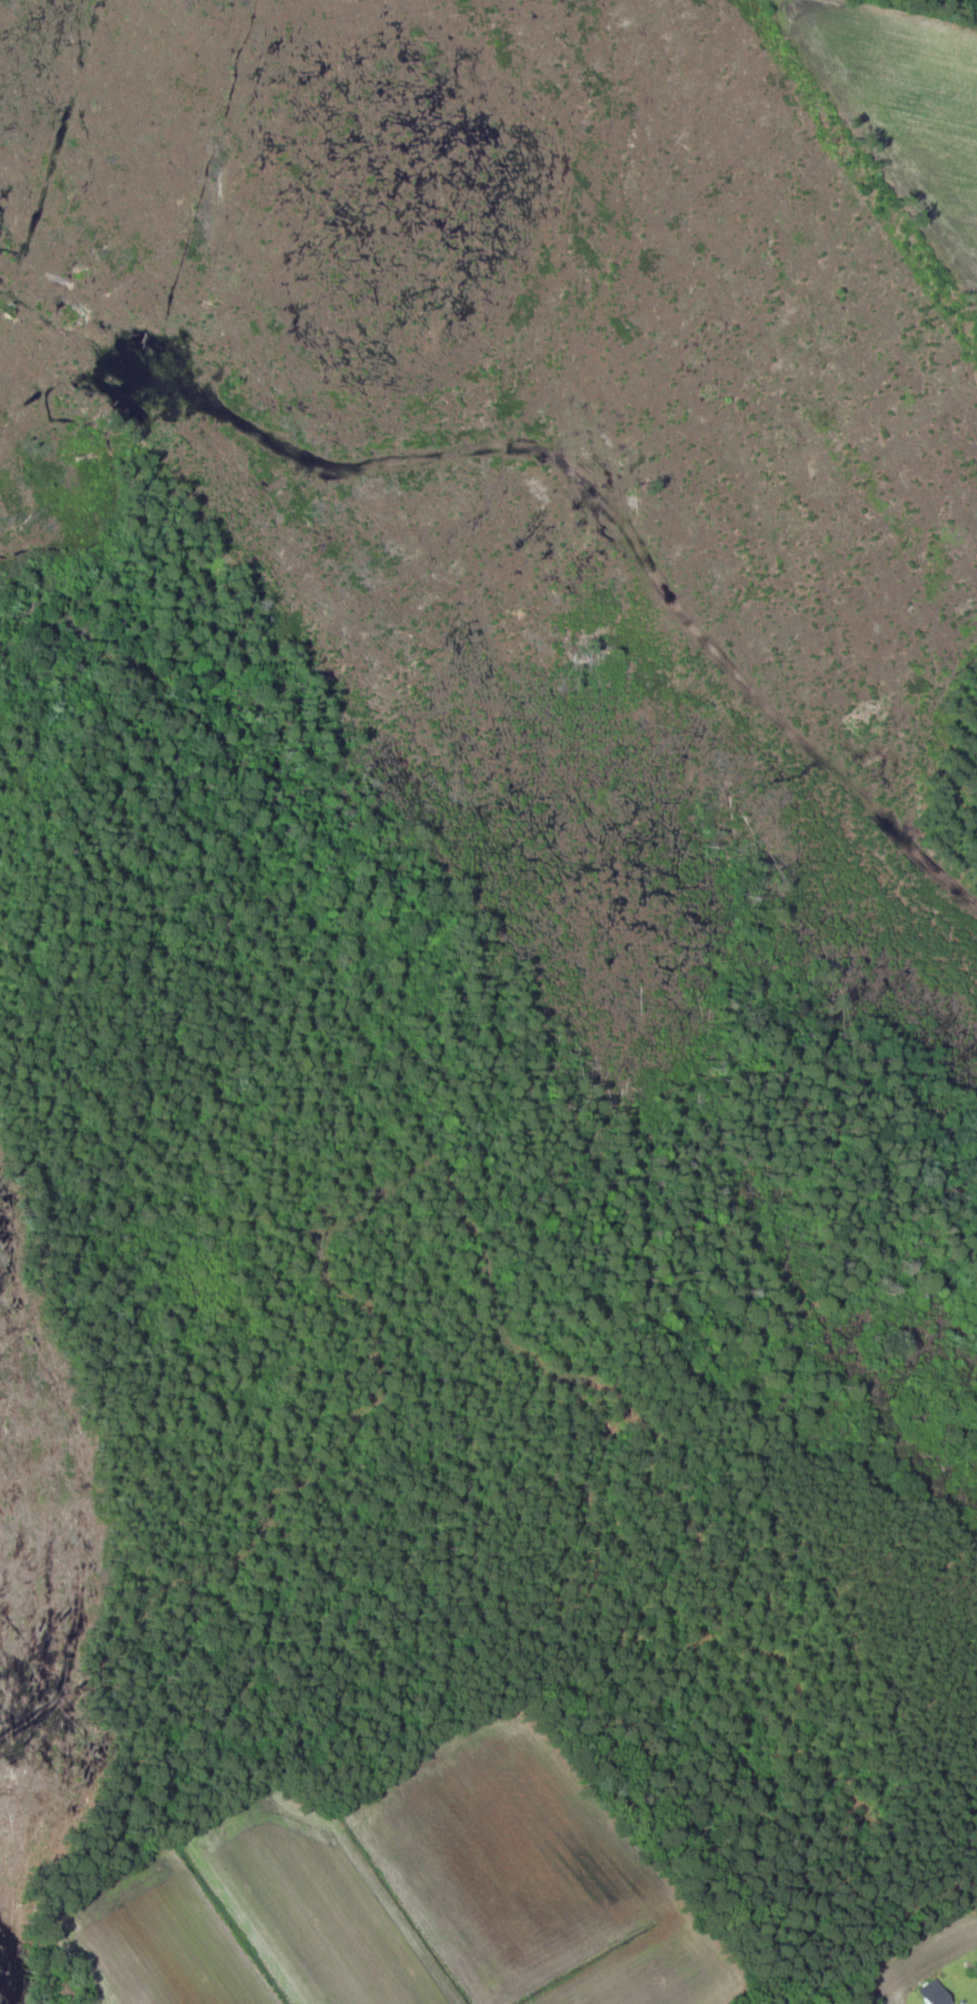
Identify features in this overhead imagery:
building: (934, 1992)

